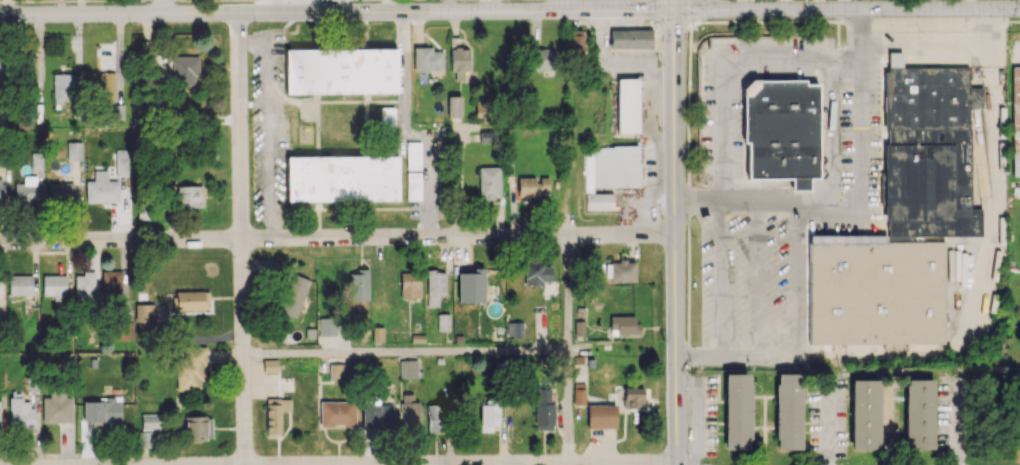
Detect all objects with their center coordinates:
road: (63, 0)
road: (4, 1)
road: (14, 1)
road: (676, 5)
road: (786, 5)
road: (564, 6)
road: (163, 7)
road: (847, 10)
traffic signals: (676, 11)
road: (337, 13)
building: (630, 38)
building: (576, 46)
building: (543, 58)
building: (427, 59)
building: (461, 64)
road: (731, 66)
building: (184, 70)
building: (341, 70)
building: (31, 71)
building: (3, 72)
building: (108, 86)
building: (63, 88)
building: (627, 105)
building: (454, 106)
building: (2, 115)
building: (387, 117)
building: (1015, 121)
road: (265, 130)
building: (780, 130)
road: (408, 134)
building: (75, 150)
building: (928, 150)
building: (413, 155)
building: (37, 162)
building: (121, 162)
building: (613, 166)
building: (342, 178)
building: (489, 182)
road: (656, 183)
road: (567, 185)
building: (414, 186)
building: (533, 187)
building: (102, 189)
building: (1, 190)
building: (61, 191)
building: (26, 193)
building: (188, 196)
building: (599, 201)
road: (863, 205)
road: (677, 238)
road: (242, 239)
road: (338, 241)
road: (987, 260)
building: (620, 271)
building: (537, 274)
building: (111, 282)
building: (20, 284)
building: (409, 284)
building: (85, 285)
building: (359, 285)
building: (470, 285)
building: (55, 286)
building: (435, 287)
building: (875, 290)
road: (568, 294)
building: (293, 295)
building: (192, 300)
building: (144, 318)
building: (443, 322)
building: (326, 326)
building: (123, 330)
building: (514, 330)
building: (378, 334)
road: (406, 352)
road: (739, 357)
building: (270, 365)
building: (408, 369)
building: (191, 370)
building: (337, 372)
building: (579, 393)
building: (634, 397)
building: (57, 406)
road: (568, 406)
building: (0, 408)
building: (544, 408)
building: (103, 410)
building: (737, 411)
building: (788, 411)
building: (21, 412)
building: (918, 413)
building: (275, 414)
building: (337, 414)
building: (410, 414)
building: (865, 414)
building: (378, 415)
building: (488, 416)
building: (601, 416)
building: (436, 418)
building: (151, 421)
building: (199, 426)
road: (339, 463)

